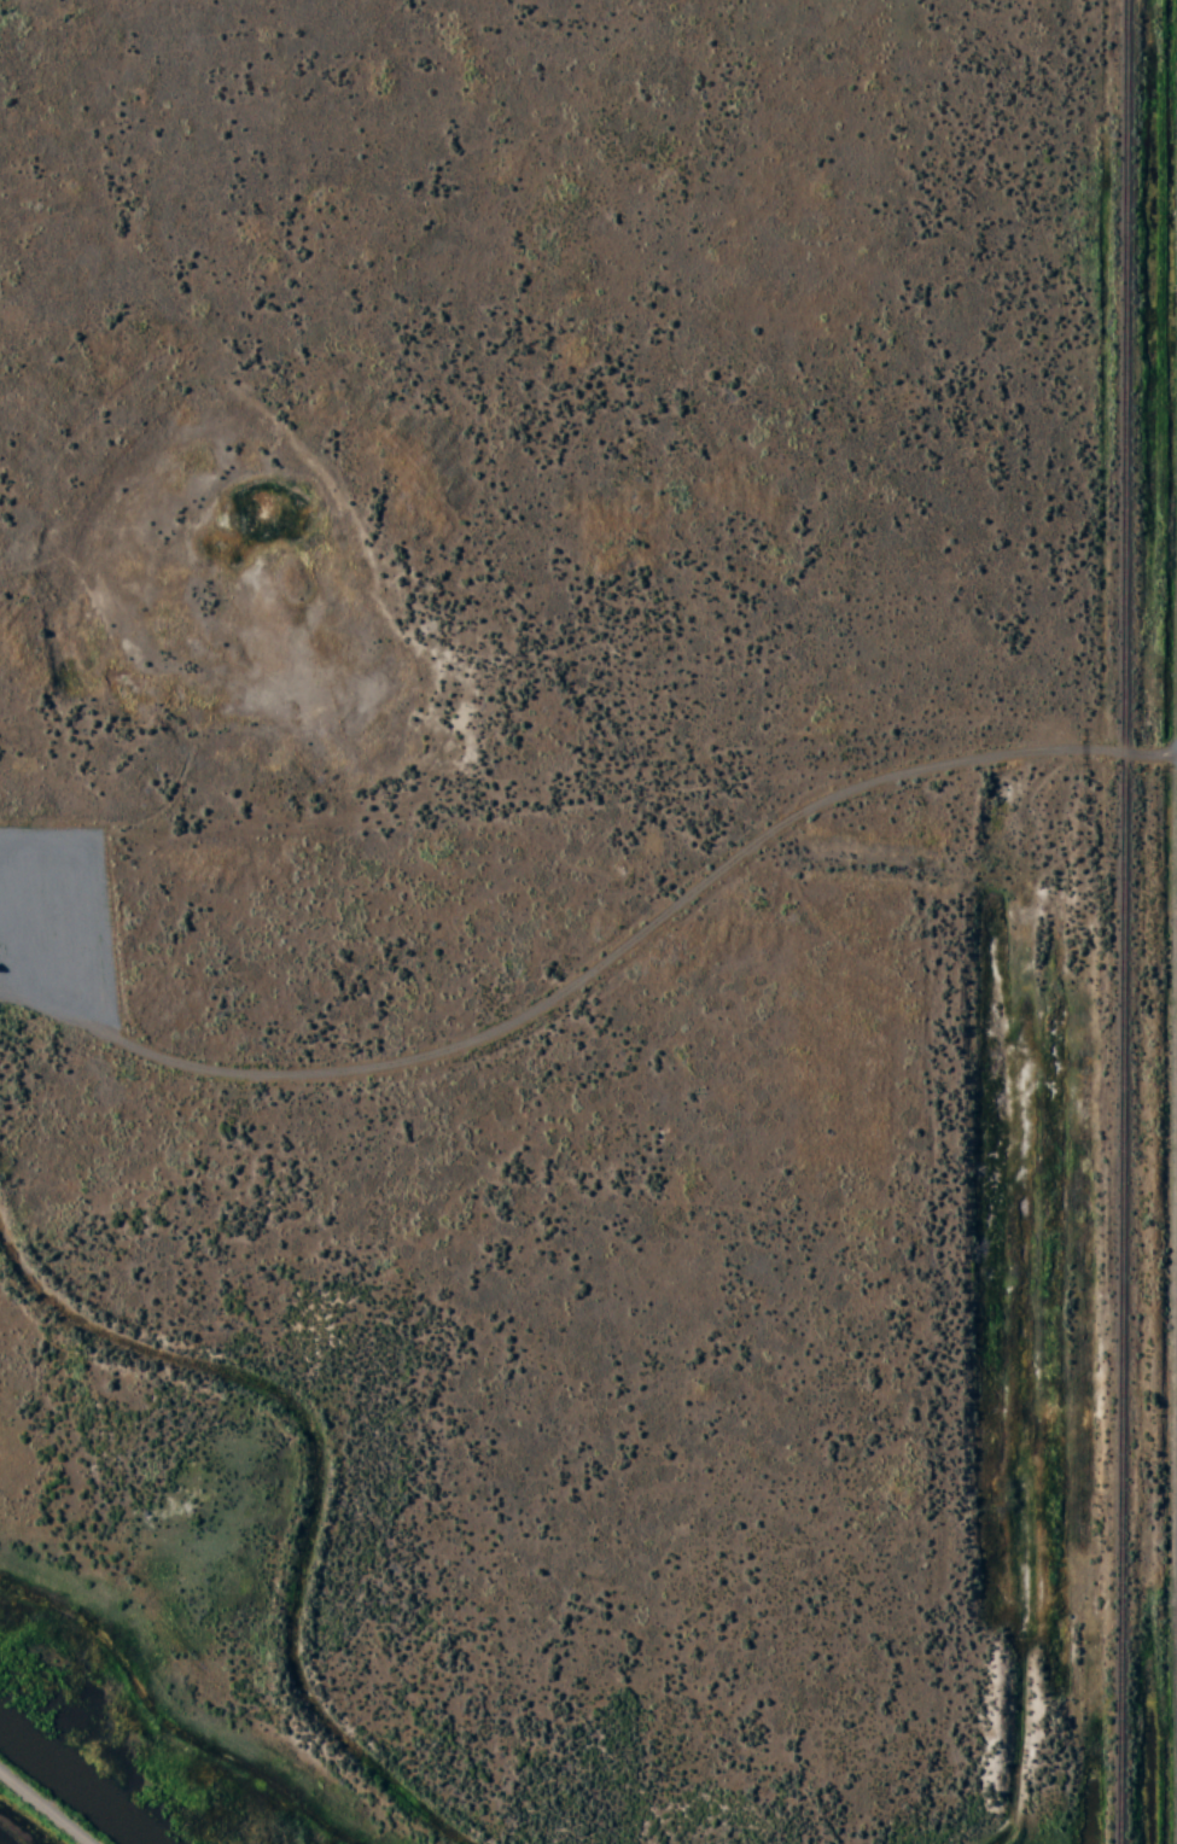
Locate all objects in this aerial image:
railway: (1124, 922)
road: (599, 967)
road: (1043, 1299)
road: (304, 1493)

